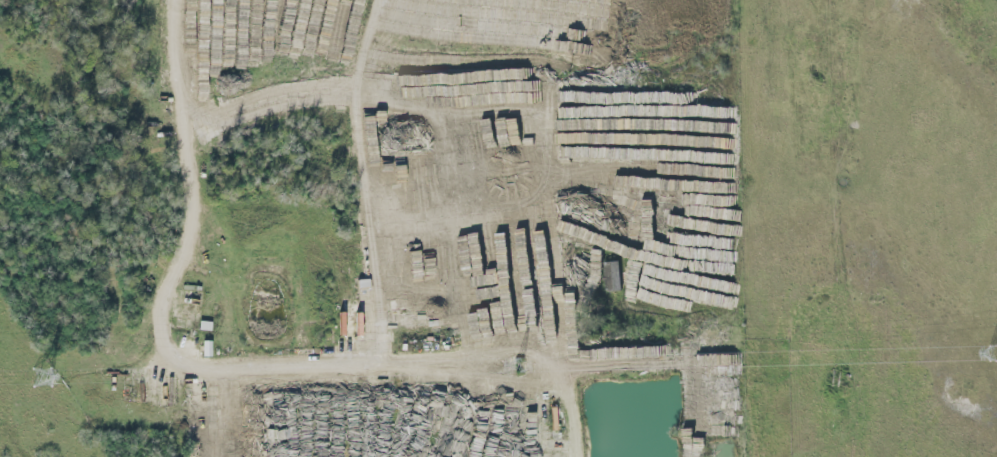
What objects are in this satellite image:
road: (369, 42)
building: (515, 80)
road: (493, 85)
building: (569, 94)
building: (432, 100)
building: (411, 177)
road: (195, 240)
building: (417, 254)
building: (611, 277)
building: (340, 324)
building: (355, 324)
building: (203, 326)
building: (204, 349)
building: (679, 352)
road: (376, 353)
power tower: (988, 356)
power tower: (517, 366)
power tower: (39, 377)
building: (299, 409)
building: (469, 423)
building: (316, 432)
building: (333, 432)
building: (211, 440)

